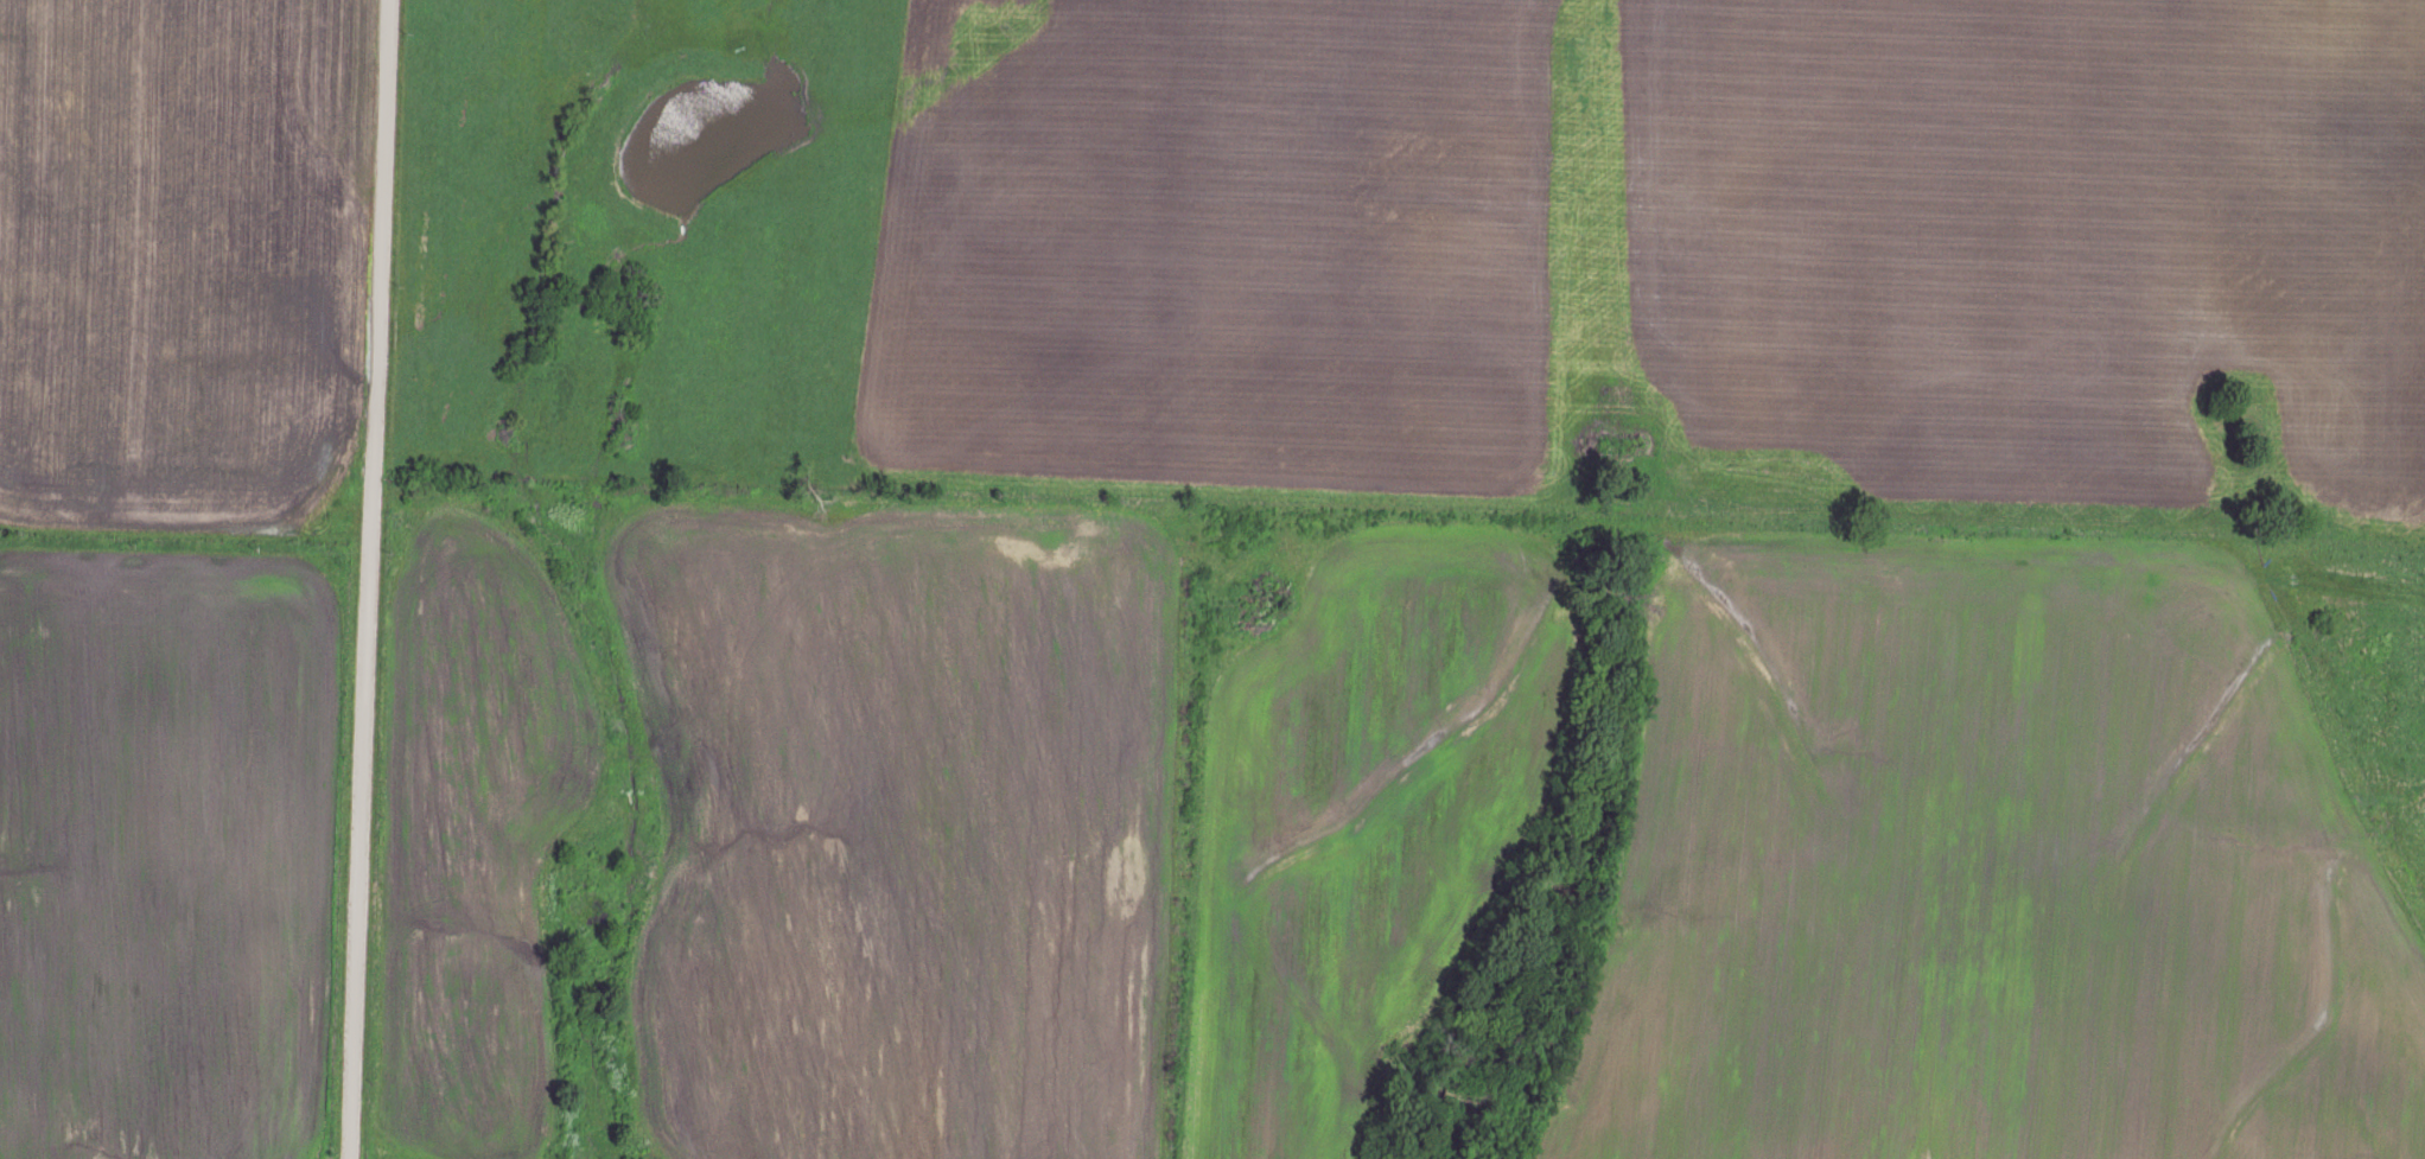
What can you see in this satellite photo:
road: (357, 579)

